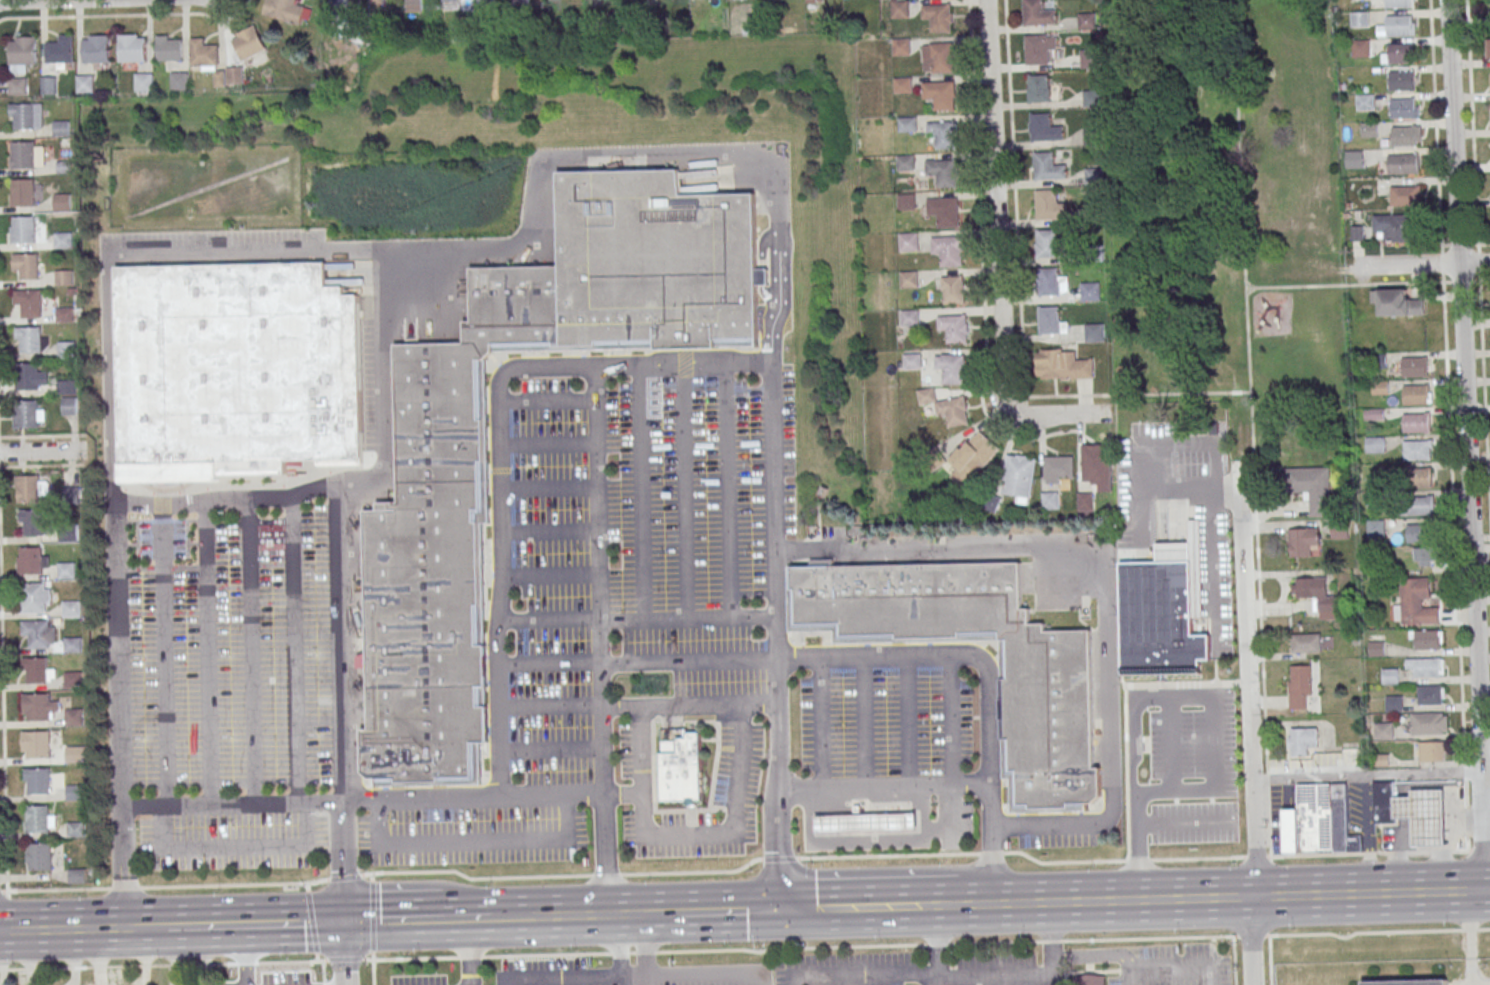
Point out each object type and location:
building: (554, 0)
building: (520, 1)
building: (448, 2)
building: (341, 3)
building: (413, 3)
building: (1398, 4)
building: (900, 9)
building: (285, 10)
building: (1033, 12)
building: (938, 17)
building: (1359, 19)
building: (1086, 20)
building: (1401, 25)
building: (249, 43)
building: (901, 47)
building: (133, 48)
building: (169, 48)
building: (1036, 48)
building: (1360, 48)
building: (1489, 48)
building: (96, 49)
building: (61, 50)
building: (23, 51)
building: (204, 53)
building: (1401, 54)
building: (938, 57)
building: (1091, 58)
building: (234, 75)
building: (180, 81)
building: (1402, 81)
building: (144, 82)
building: (86, 83)
building: (49, 85)
building: (903, 85)
building: (18, 86)
building: (1039, 88)
building: (941, 95)
building: (1093, 98)
building: (1365, 102)
building: (1404, 108)
building: (26, 116)
road: (1472, 122)
building: (907, 124)
building: (1041, 127)
building: (63, 128)
building: (1367, 130)
building: (942, 134)
building: (1094, 136)
building: (1405, 136)
road: (1437, 140)
building: (27, 155)
building: (1354, 159)
building: (905, 163)
building: (1404, 164)
building: (1048, 167)
building: (942, 173)
building: (1094, 175)
road: (541, 177)
building: (22, 192)
park: (1224, 193)
building: (1406, 197)
building: (63, 202)
building: (906, 202)
building: (1050, 205)
building: (945, 212)
building: (1093, 214)
building: (1395, 227)
building: (22, 229)
building: (64, 240)
building: (909, 242)
building: (1048, 243)
road: (1459, 244)
building: (948, 250)
building: (1094, 253)
road: (998, 254)
road: (124, 256)
building: (647, 263)
road: (1421, 264)
building: (25, 266)
building: (65, 278)
building: (909, 279)
road: (1475, 280)
building: (1049, 282)
road: (1354, 284)
building: (953, 291)
building: (1091, 291)
building: (30, 303)
building: (1397, 303)
building: (66, 313)
building: (910, 317)
building: (1050, 321)
building: (954, 329)
building: (1094, 332)
building: (31, 339)
building: (68, 349)
building: (912, 361)
building: (1379, 361)
building: (1062, 365)
building: (1415, 367)
building: (951, 368)
road: (1483, 368)
building: (235, 370)
building: (31, 377)
building: (67, 388)
road: (1137, 395)
building: (1415, 395)
building: (69, 406)
building: (947, 407)
building: (26, 415)
building: (1416, 424)
road: (1252, 427)
road: (1160, 444)
road: (1467, 444)
building: (1375, 445)
road: (498, 450)
building: (1417, 450)
road: (42, 451)
building: (973, 458)
building: (1096, 459)
building: (1058, 469)
building: (1019, 477)
building: (1418, 478)
building: (1312, 487)
building: (28, 489)
road: (1176, 489)
road: (728, 490)
road: (683, 491)
road: (641, 492)
building: (72, 495)
road: (252, 499)
building: (1375, 499)
building: (1050, 500)
building: (1086, 502)
building: (1420, 506)
building: (33, 523)
building: (1376, 528)
building: (1420, 534)
building: (436, 542)
building: (1304, 542)
building: (1425, 556)
building: (32, 560)
road: (1216, 566)
building: (68, 570)
road: (1456, 576)
road: (1102, 591)
building: (1315, 596)
building: (36, 598)
building: (1415, 603)
building: (73, 609)
building: (1159, 613)
road: (635, 620)
building: (37, 634)
road: (121, 635)
road: (774, 636)
building: (1427, 639)
road: (600, 640)
building: (74, 643)
building: (1305, 643)
road: (340, 644)
building: (1376, 649)
road: (294, 650)
road: (252, 652)
road: (207, 653)
road: (165, 655)
road: (688, 661)
road: (548, 662)
building: (1426, 667)
building: (36, 670)
building: (1390, 676)
road: (987, 678)
building: (74, 679)
building: (1299, 687)
building: (1431, 694)
road: (1212, 699)
building: (1394, 704)
road: (549, 705)
building: (1045, 705)
road: (689, 706)
building: (38, 707)
road: (4, 712)
building: (74, 717)
road: (950, 721)
road: (911, 722)
road: (865, 723)
road: (1250, 723)
building: (1429, 723)
road: (823, 724)
road: (742, 726)
building: (1383, 731)
building: (1301, 741)
building: (37, 745)
road: (550, 749)
building: (1432, 751)
building: (76, 754)
building: (1348, 756)
building: (677, 770)
road: (1372, 776)
building: (39, 780)
road: (124, 788)
road: (884, 788)
building: (76, 791)
road: (623, 793)
road: (551, 795)
road: (420, 798)
building: (1384, 803)
road: (232, 804)
building: (1423, 817)
building: (39, 819)
building: (1319, 821)
road: (1182, 823)
building: (865, 824)
gas station: (865, 824)
road: (666, 834)
road: (472, 839)
road: (235, 846)
road: (1134, 847)
road: (992, 852)
road: (889, 855)
building: (40, 856)
road: (1255, 856)
road: (1269, 856)
road: (779, 858)
road: (1197, 858)
road: (1138, 860)
road: (343, 861)
road: (1063, 862)
road: (126, 867)
road: (692, 872)
road: (606, 875)
building: (78, 876)
road: (345, 876)
road: (371, 877)
road: (477, 877)
road: (164, 886)
road: (307, 886)
road: (1228, 897)
road: (873, 906)
traffic signals: (781, 910)
road: (727, 911)
road: (661, 913)
road: (631, 914)
road: (646, 914)
road: (612, 915)
road: (578, 916)
road: (373, 917)
road: (527, 917)
road: (469, 918)
road: (390, 921)
road: (312, 922)
road: (323, 922)
traffic signals: (345, 922)
road: (278, 924)
road: (191, 926)
road: (1463, 926)
road: (110, 928)
road: (46, 929)
road: (1132, 938)
road: (936, 944)
road: (644, 945)
road: (619, 946)
road: (790, 948)
road: (469, 952)
road: (345, 953)
road: (619, 953)
road: (631, 953)
road: (644, 953)
road: (1099, 954)
road: (546, 955)
road: (469, 957)
road: (410, 959)
road: (1233, 960)
road: (344, 961)
road: (162, 965)
road: (1178, 967)
road: (323, 968)
road: (373, 970)
road: (1030, 971)
road: (1465, 973)
road: (698, 975)
road: (897, 976)
road: (1130, 977)
road: (559, 979)
road: (935, 980)
building: (1086, 980)
road: (635, 981)
building: (1408, 982)

